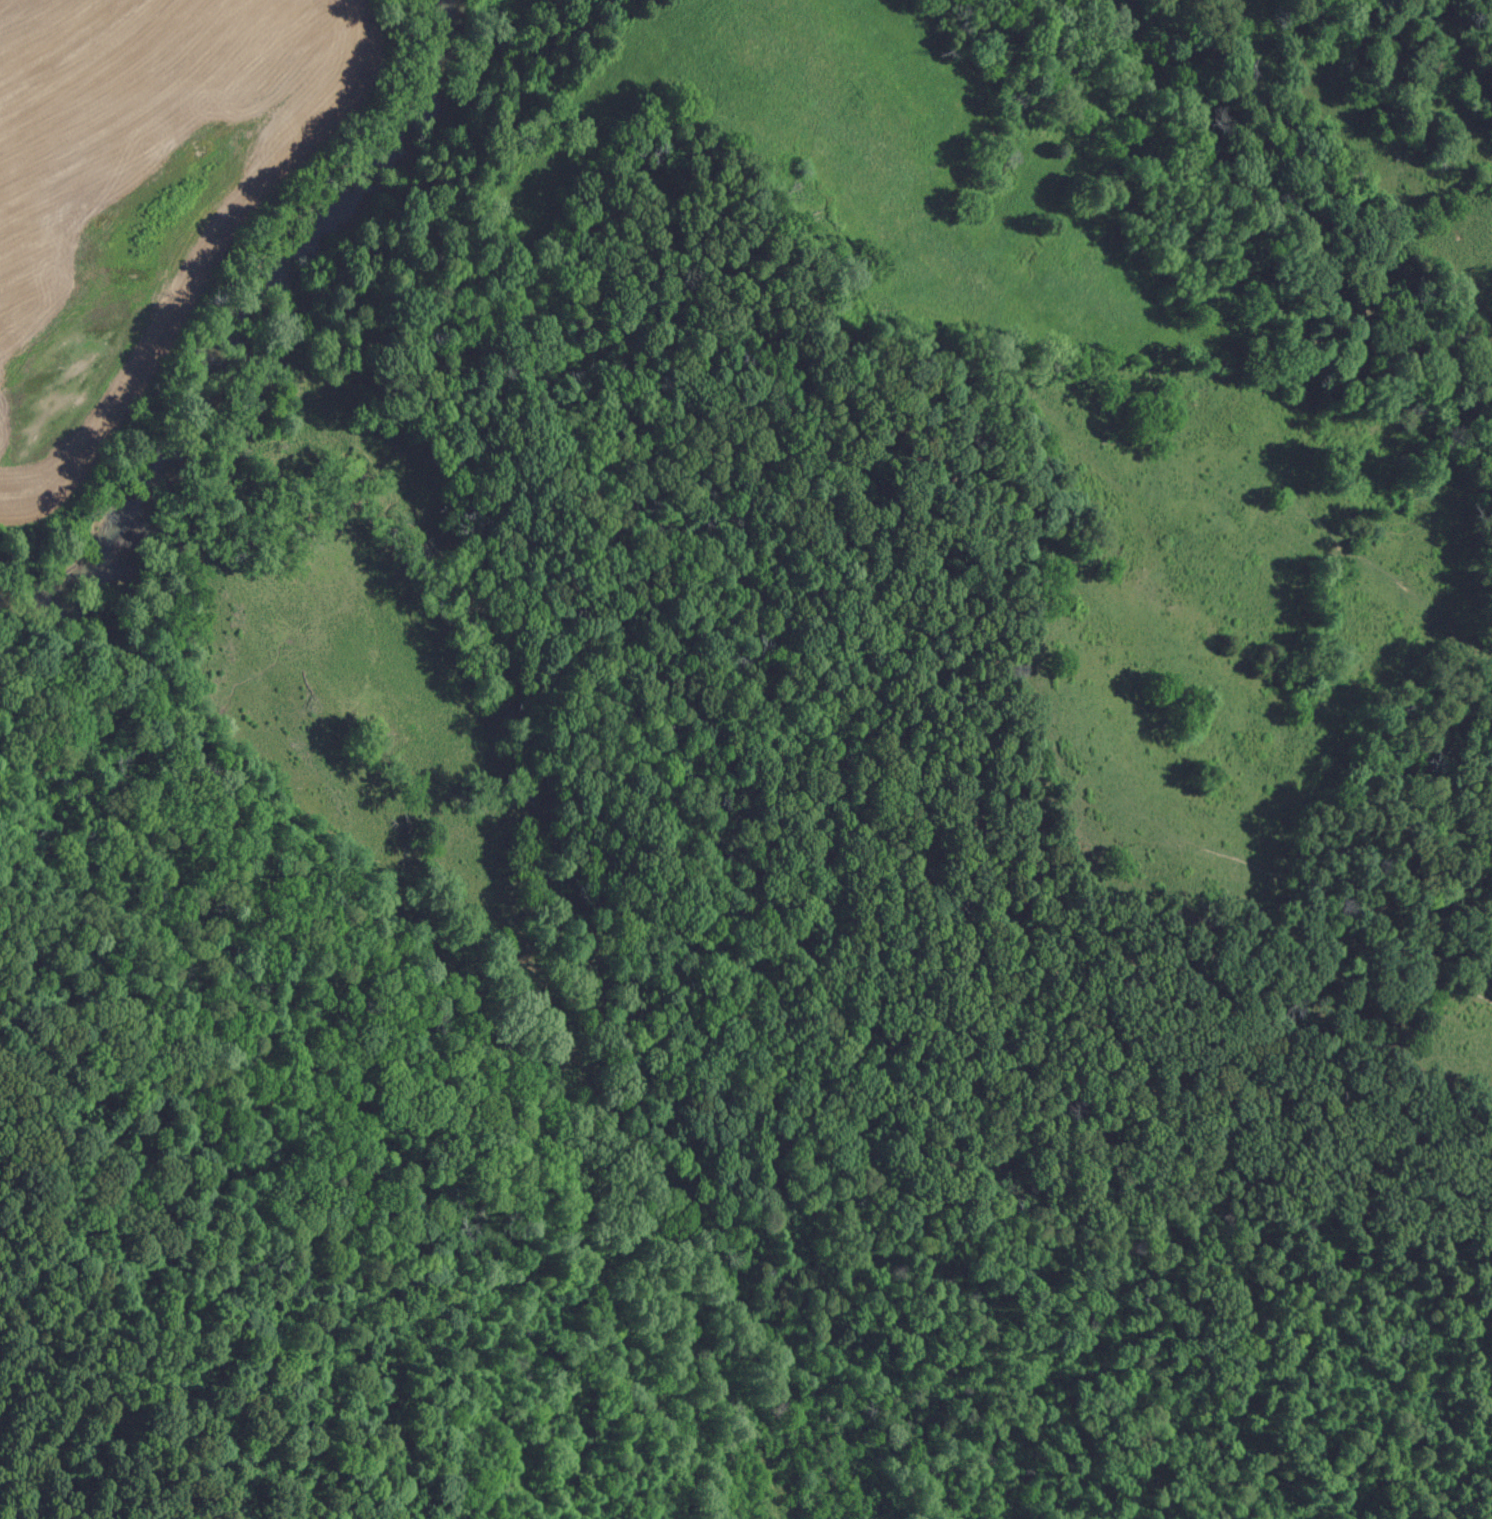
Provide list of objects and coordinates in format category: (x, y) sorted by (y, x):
river: (247, 316)

